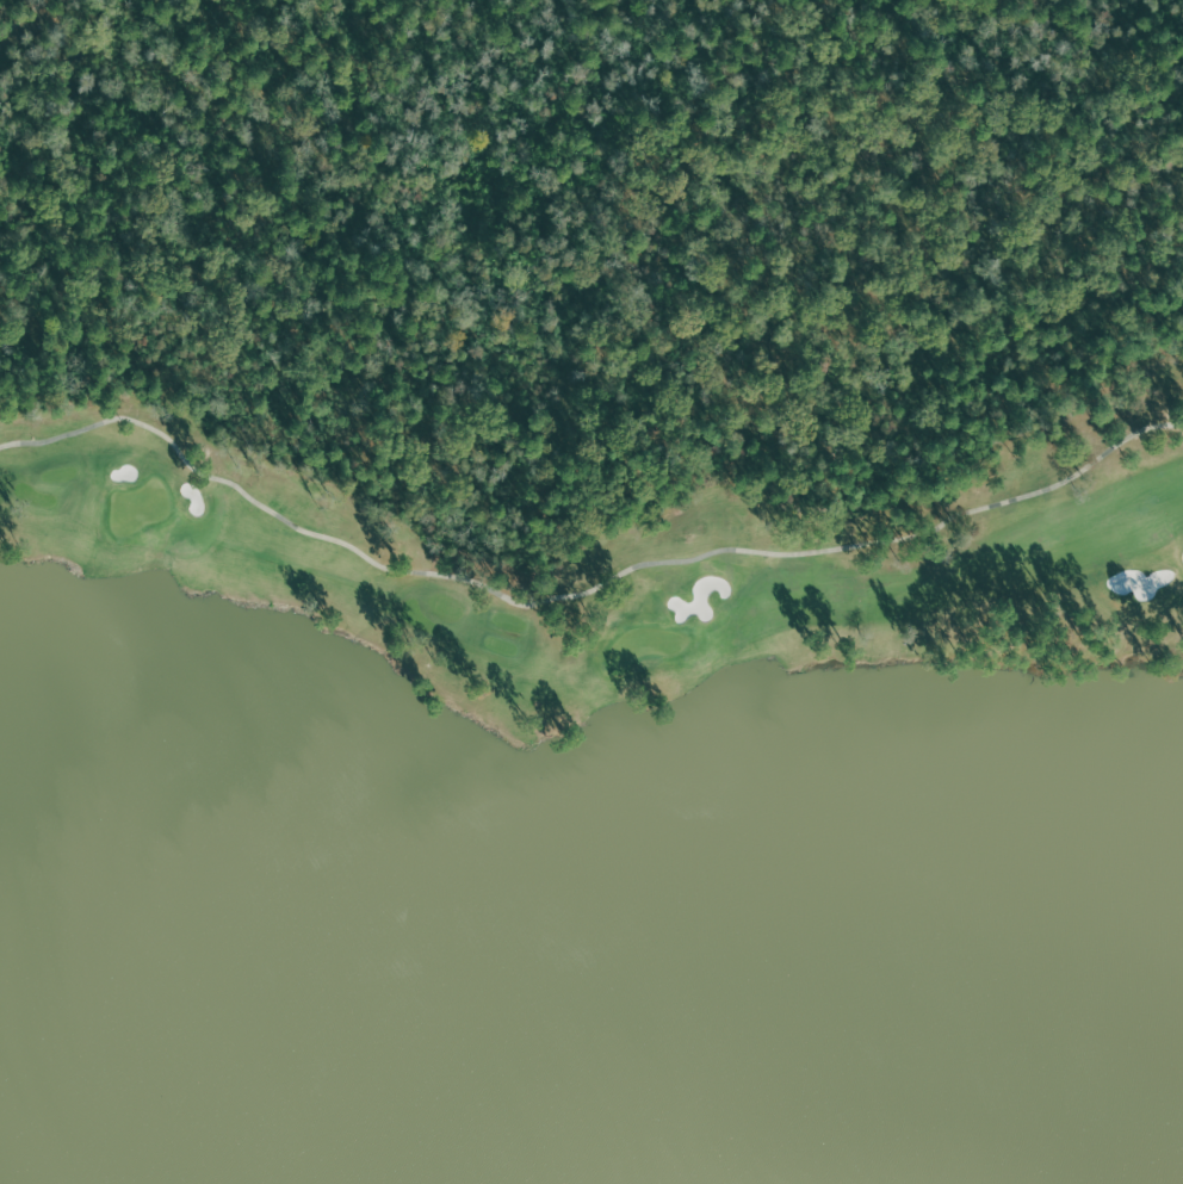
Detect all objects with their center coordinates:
park: (599, 382)
park: (138, 506)
road: (577, 593)
park: (644, 645)

